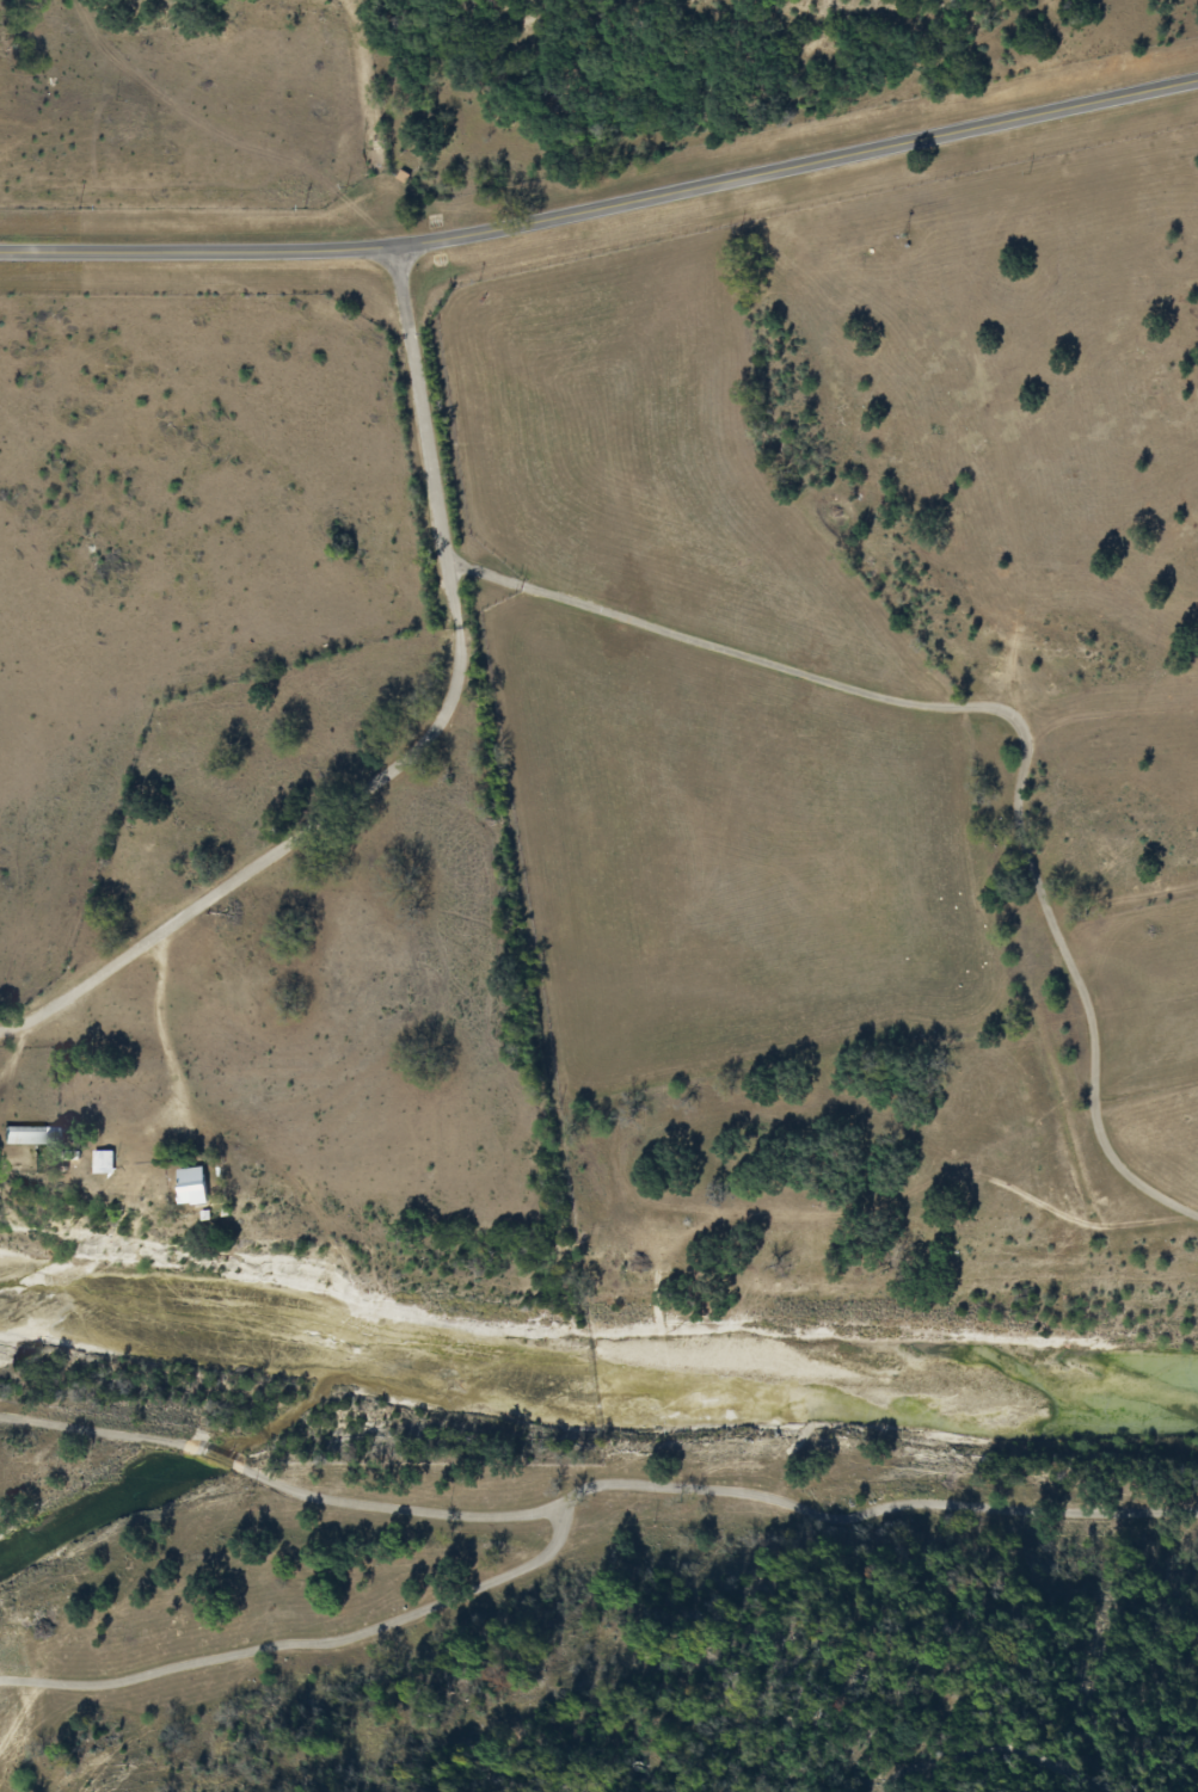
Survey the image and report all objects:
road: (379, 121)
road: (603, 205)
road: (428, 743)
building: (35, 1135)
building: (107, 1163)
building: (198, 1187)
river: (600, 1335)

